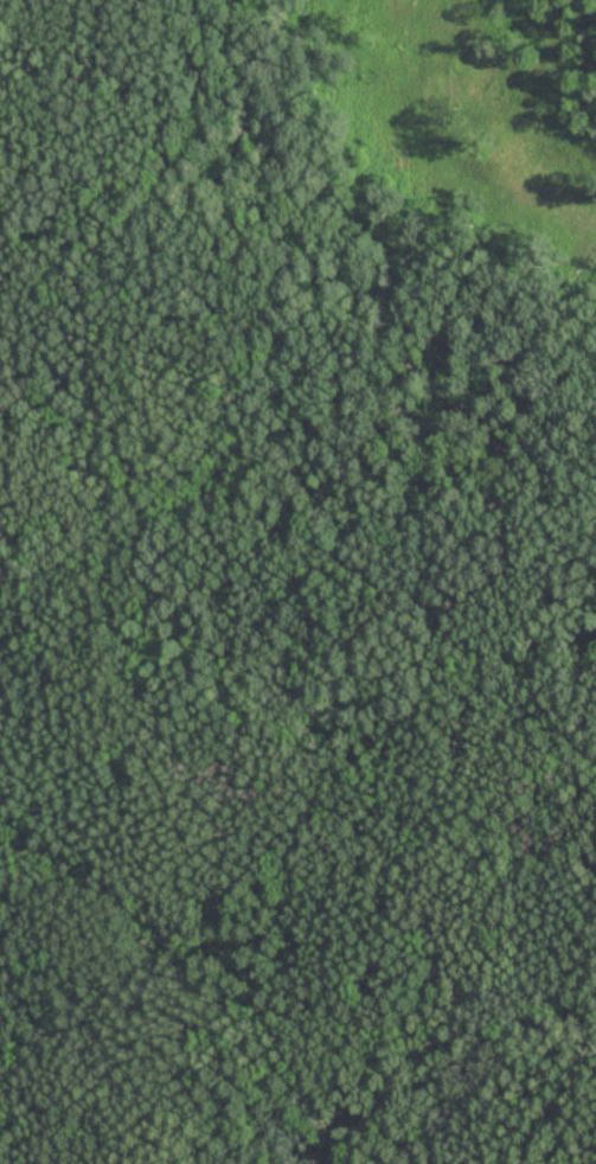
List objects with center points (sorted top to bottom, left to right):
road: (2, 9)
road: (232, 599)
road: (468, 1152)

